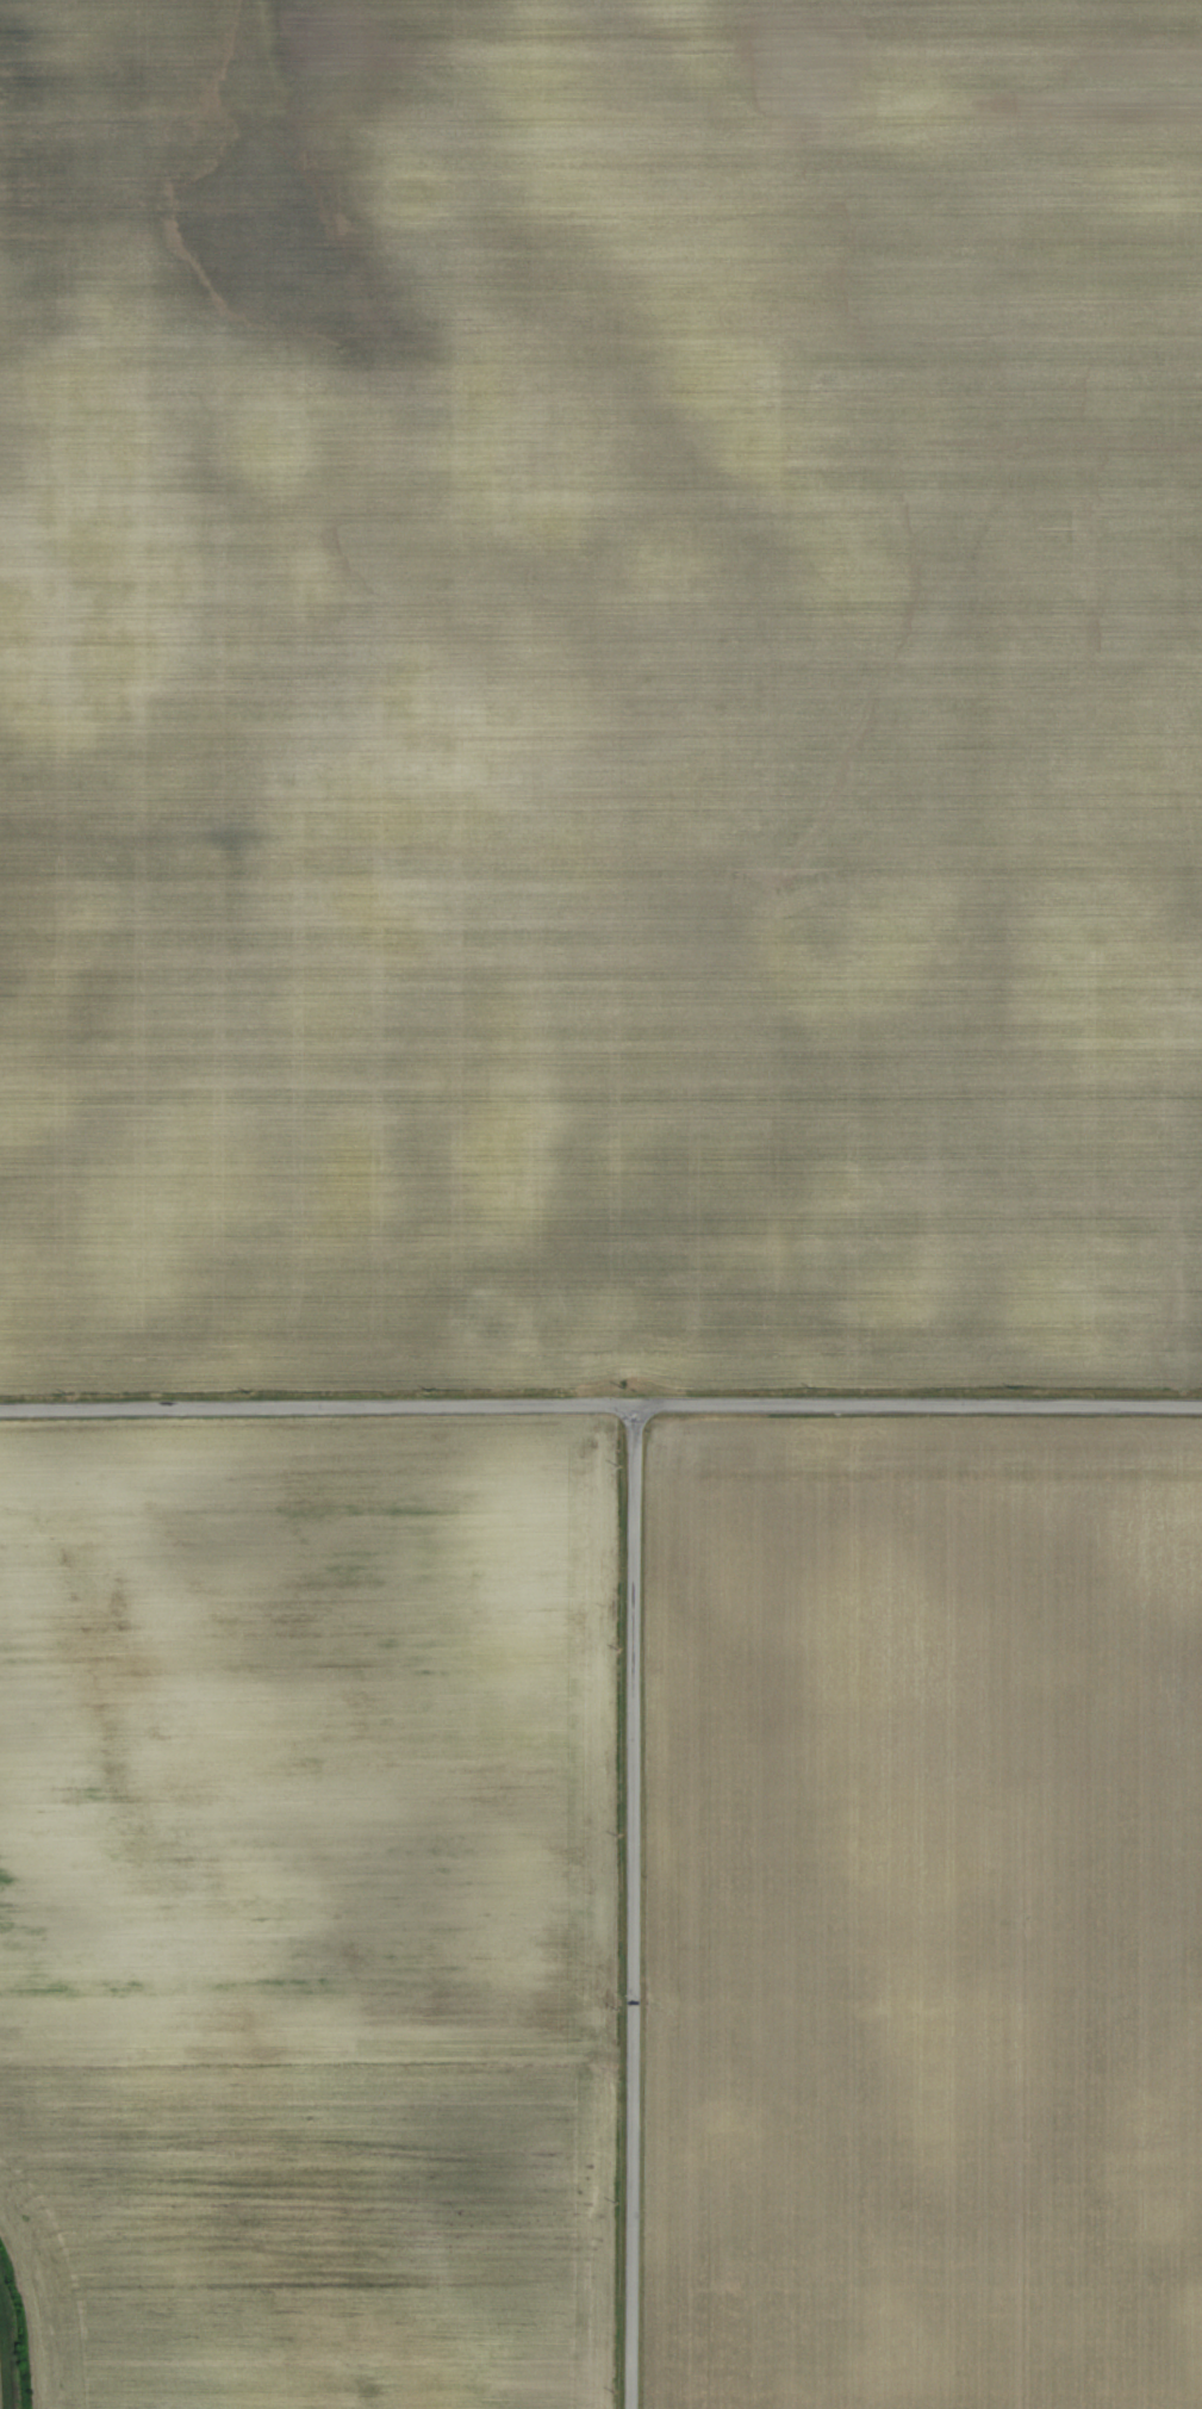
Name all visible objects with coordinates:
road: (600, 1401)
road: (636, 1904)

